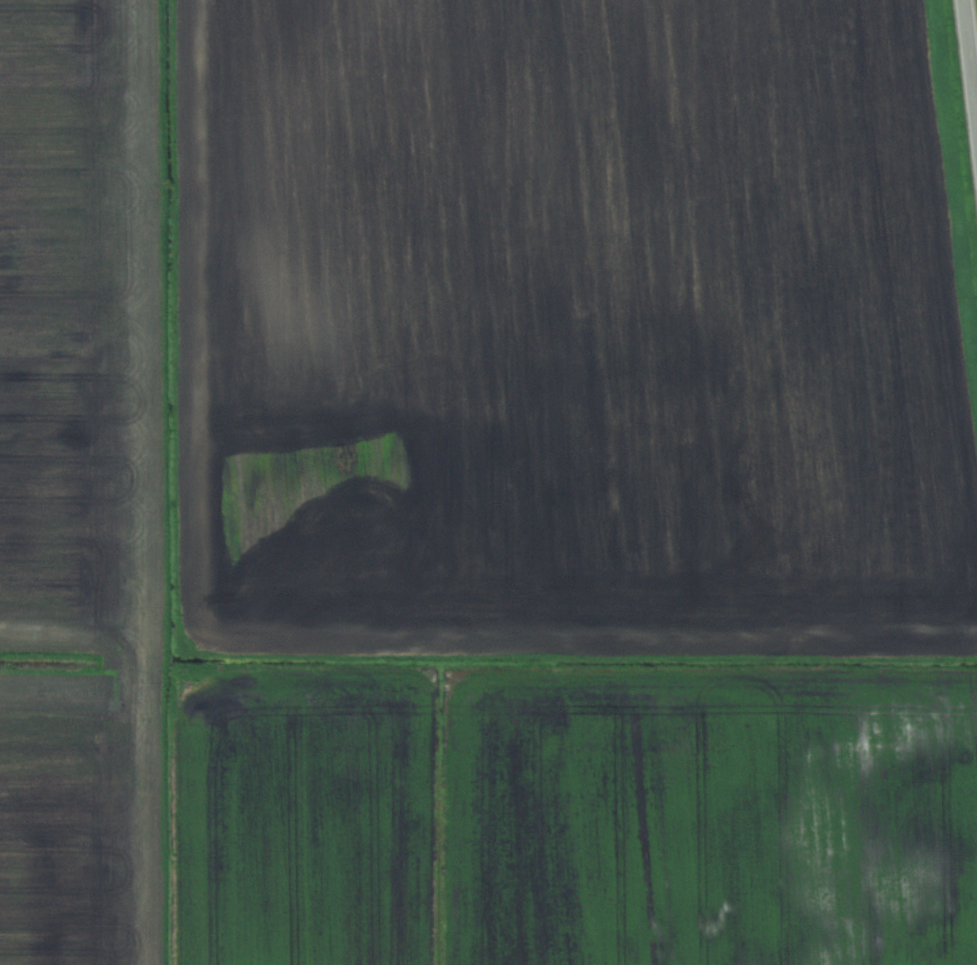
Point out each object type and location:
road: (970, 53)

